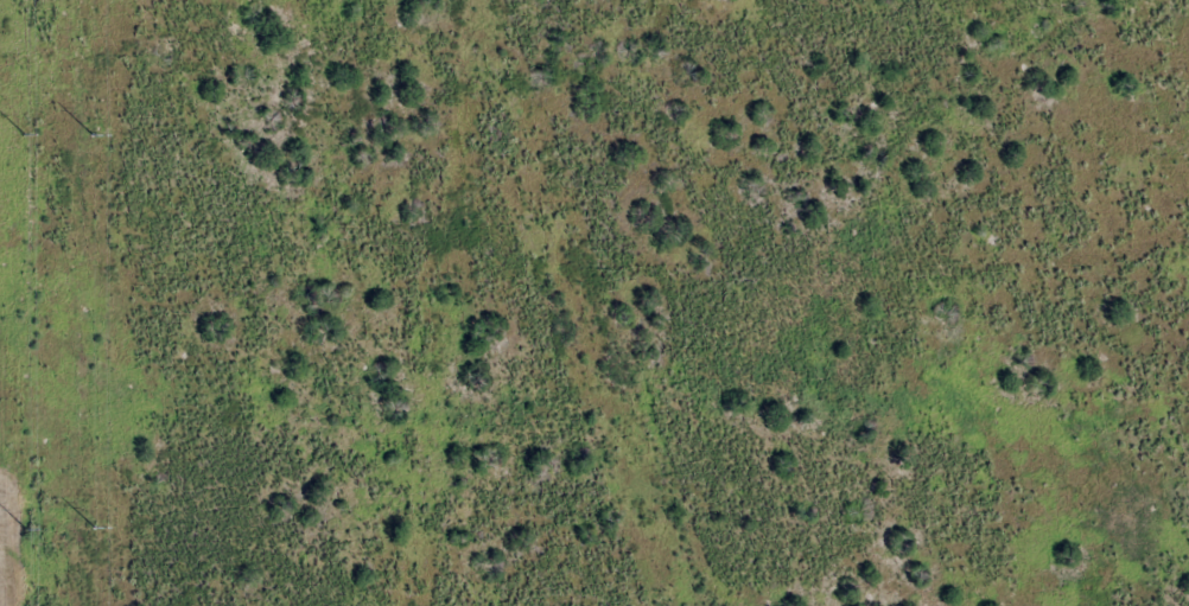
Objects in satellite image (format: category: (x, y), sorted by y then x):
power tower: (451, 295)
power tower: (634, 459)

